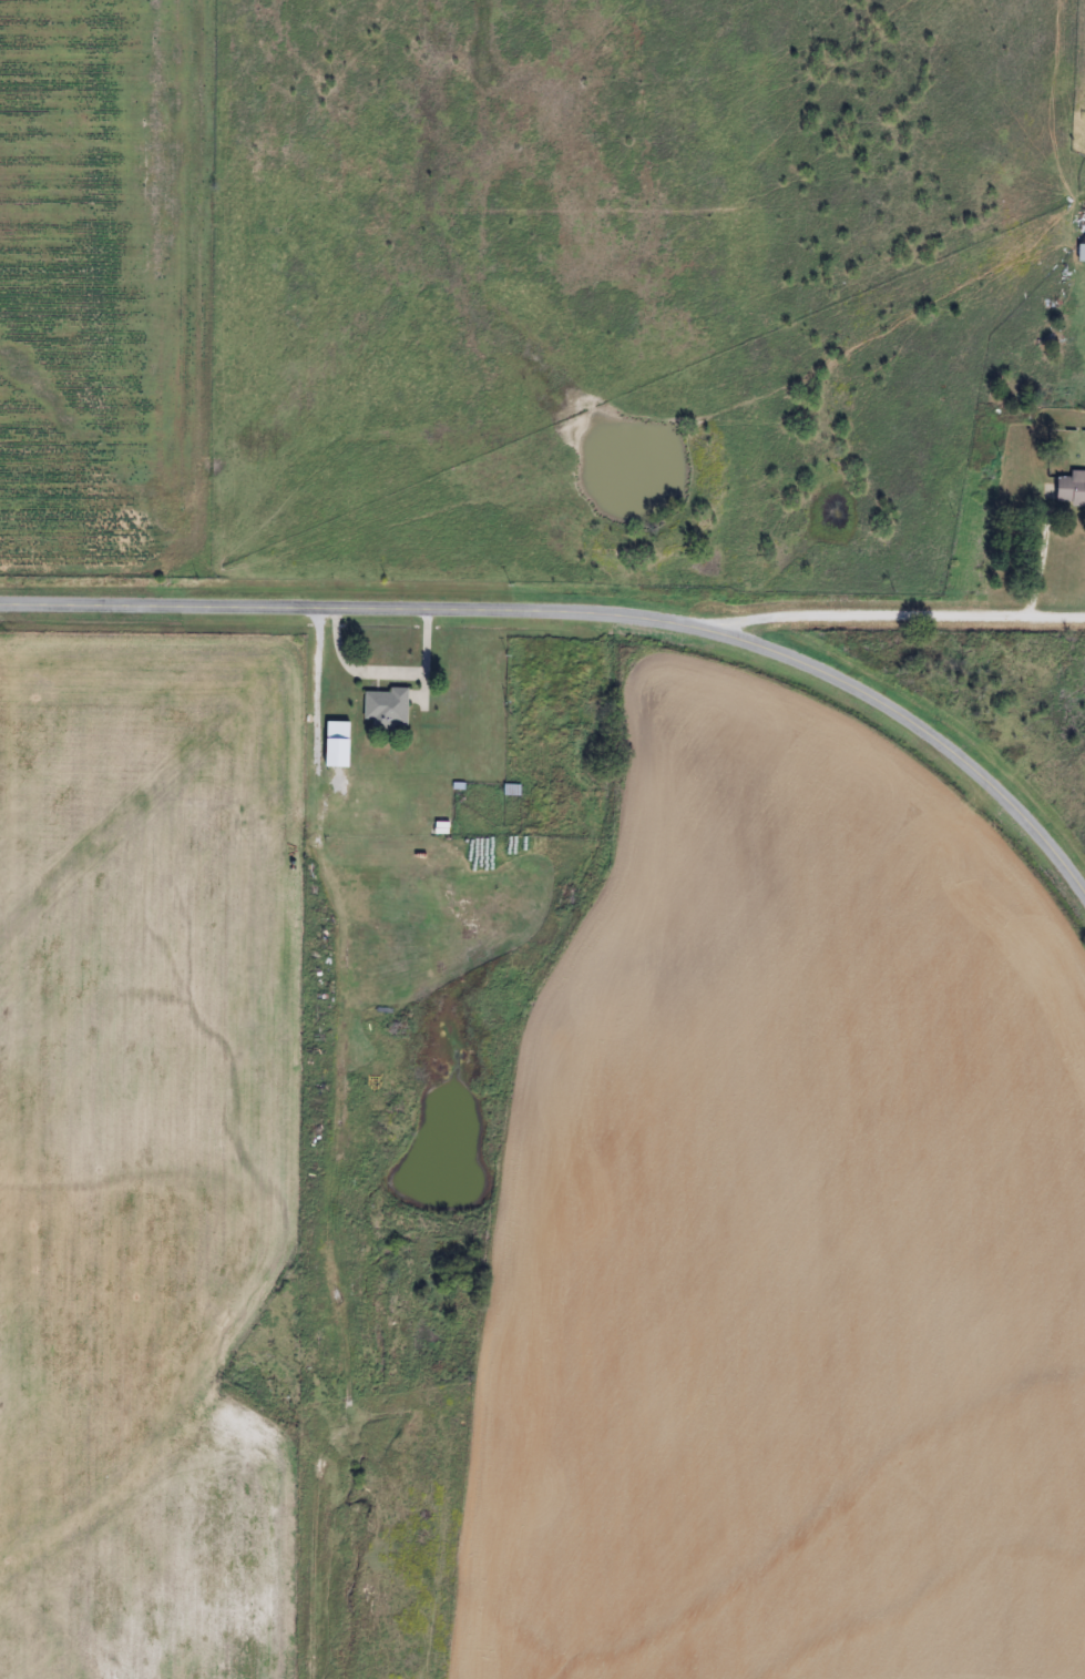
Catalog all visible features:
building: (1081, 253)
building: (1071, 489)
road: (928, 613)
road: (588, 623)
building: (387, 709)
building: (336, 731)

